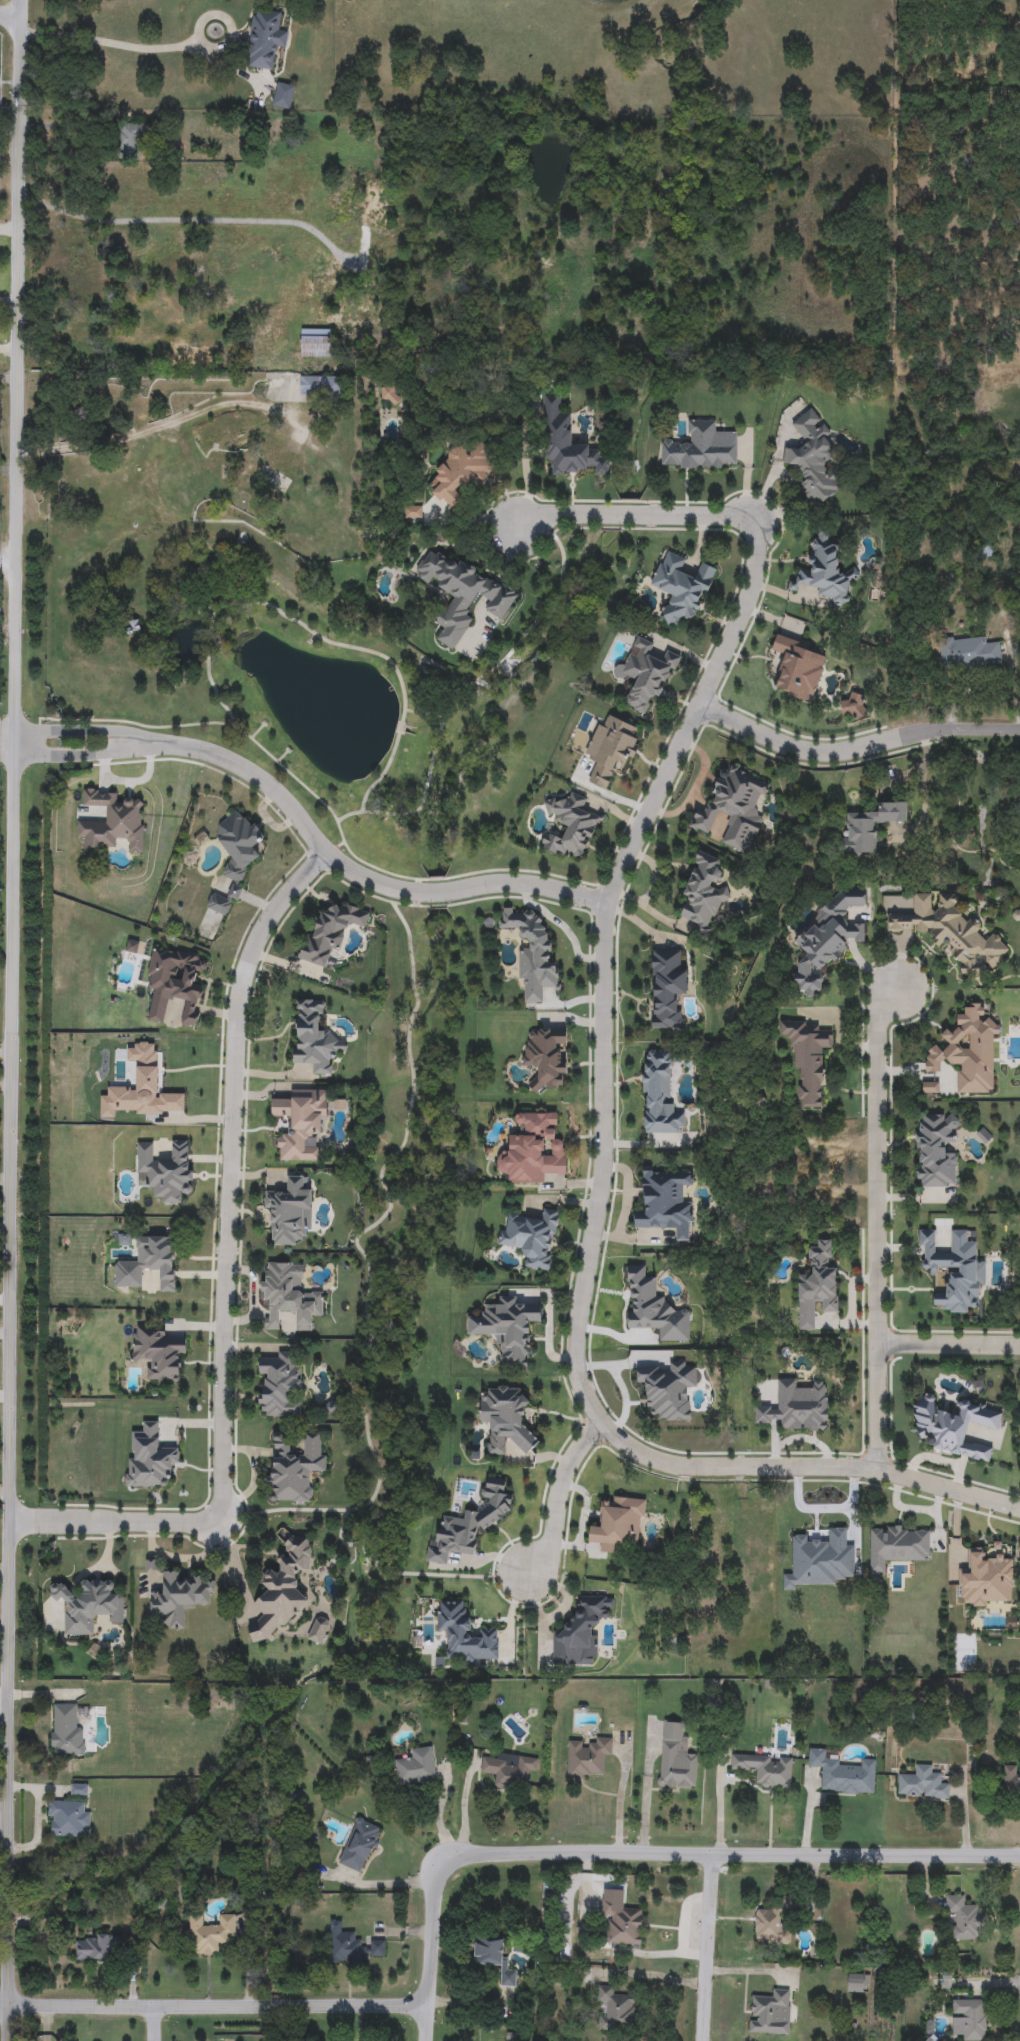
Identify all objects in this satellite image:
road: (12, 13)
building: (264, 40)
road: (116, 47)
building: (283, 96)
building: (132, 139)
building: (377, 208)
road: (193, 220)
road: (11, 231)
road: (10, 302)
building: (315, 343)
road: (9, 351)
building: (182, 354)
building: (320, 386)
building: (391, 393)
building: (567, 445)
building: (702, 449)
building: (813, 459)
building: (459, 474)
building: (412, 512)
road: (634, 517)
park: (8, 557)
building: (825, 572)
building: (681, 588)
building: (461, 594)
building: (970, 653)
building: (798, 668)
building: (646, 674)
road: (7, 726)
road: (84, 728)
building: (611, 749)
road: (856, 750)
road: (84, 754)
road: (7, 756)
building: (734, 809)
building: (571, 826)
building: (868, 828)
building: (239, 844)
road: (358, 875)
building: (235, 892)
building: (703, 893)
building: (219, 904)
building: (951, 931)
building: (330, 932)
building: (827, 939)
building: (532, 953)
road: (603, 957)
building: (175, 983)
building: (666, 989)
road: (11, 1020)
building: (313, 1038)
building: (969, 1051)
building: (546, 1057)
building: (808, 1060)
building: (659, 1095)
building: (301, 1124)
building: (533, 1150)
building: (936, 1151)
road: (878, 1163)
building: (165, 1171)
building: (665, 1205)
building: (290, 1212)
building: (531, 1237)
building: (150, 1263)
building: (954, 1271)
road: (227, 1279)
building: (817, 1287)
building: (289, 1295)
building: (653, 1308)
building: (508, 1329)
road: (5, 1335)
road: (949, 1345)
building: (158, 1353)
building: (279, 1387)
building: (668, 1390)
road: (5, 1399)
building: (797, 1407)
road: (876, 1407)
building: (505, 1418)
building: (953, 1428)
road: (804, 1467)
building: (294, 1468)
road: (556, 1502)
building: (469, 1525)
building: (618, 1525)
building: (897, 1547)
building: (282, 1590)
building: (179, 1598)
building: (89, 1606)
building: (318, 1630)
building: (581, 1633)
building: (465, 1635)
road: (3, 1700)
building: (66, 1732)
building: (588, 1758)
building: (675, 1760)
building: (416, 1768)
building: (765, 1769)
building: (510, 1772)
building: (843, 1774)
building: (1011, 1780)
building: (922, 1784)
building: (67, 1818)
building: (360, 1846)
road: (661, 1855)
building: (620, 1919)
building: (965, 1919)
building: (774, 1922)
building: (211, 1935)
building: (351, 1946)
building: (98, 1948)
road: (707, 1948)
building: (493, 1957)
building: (855, 1984)
road: (214, 2007)
building: (615, 2010)
building: (771, 2013)
building: (968, 2019)
road: (426, 2021)
road: (153, 2024)

